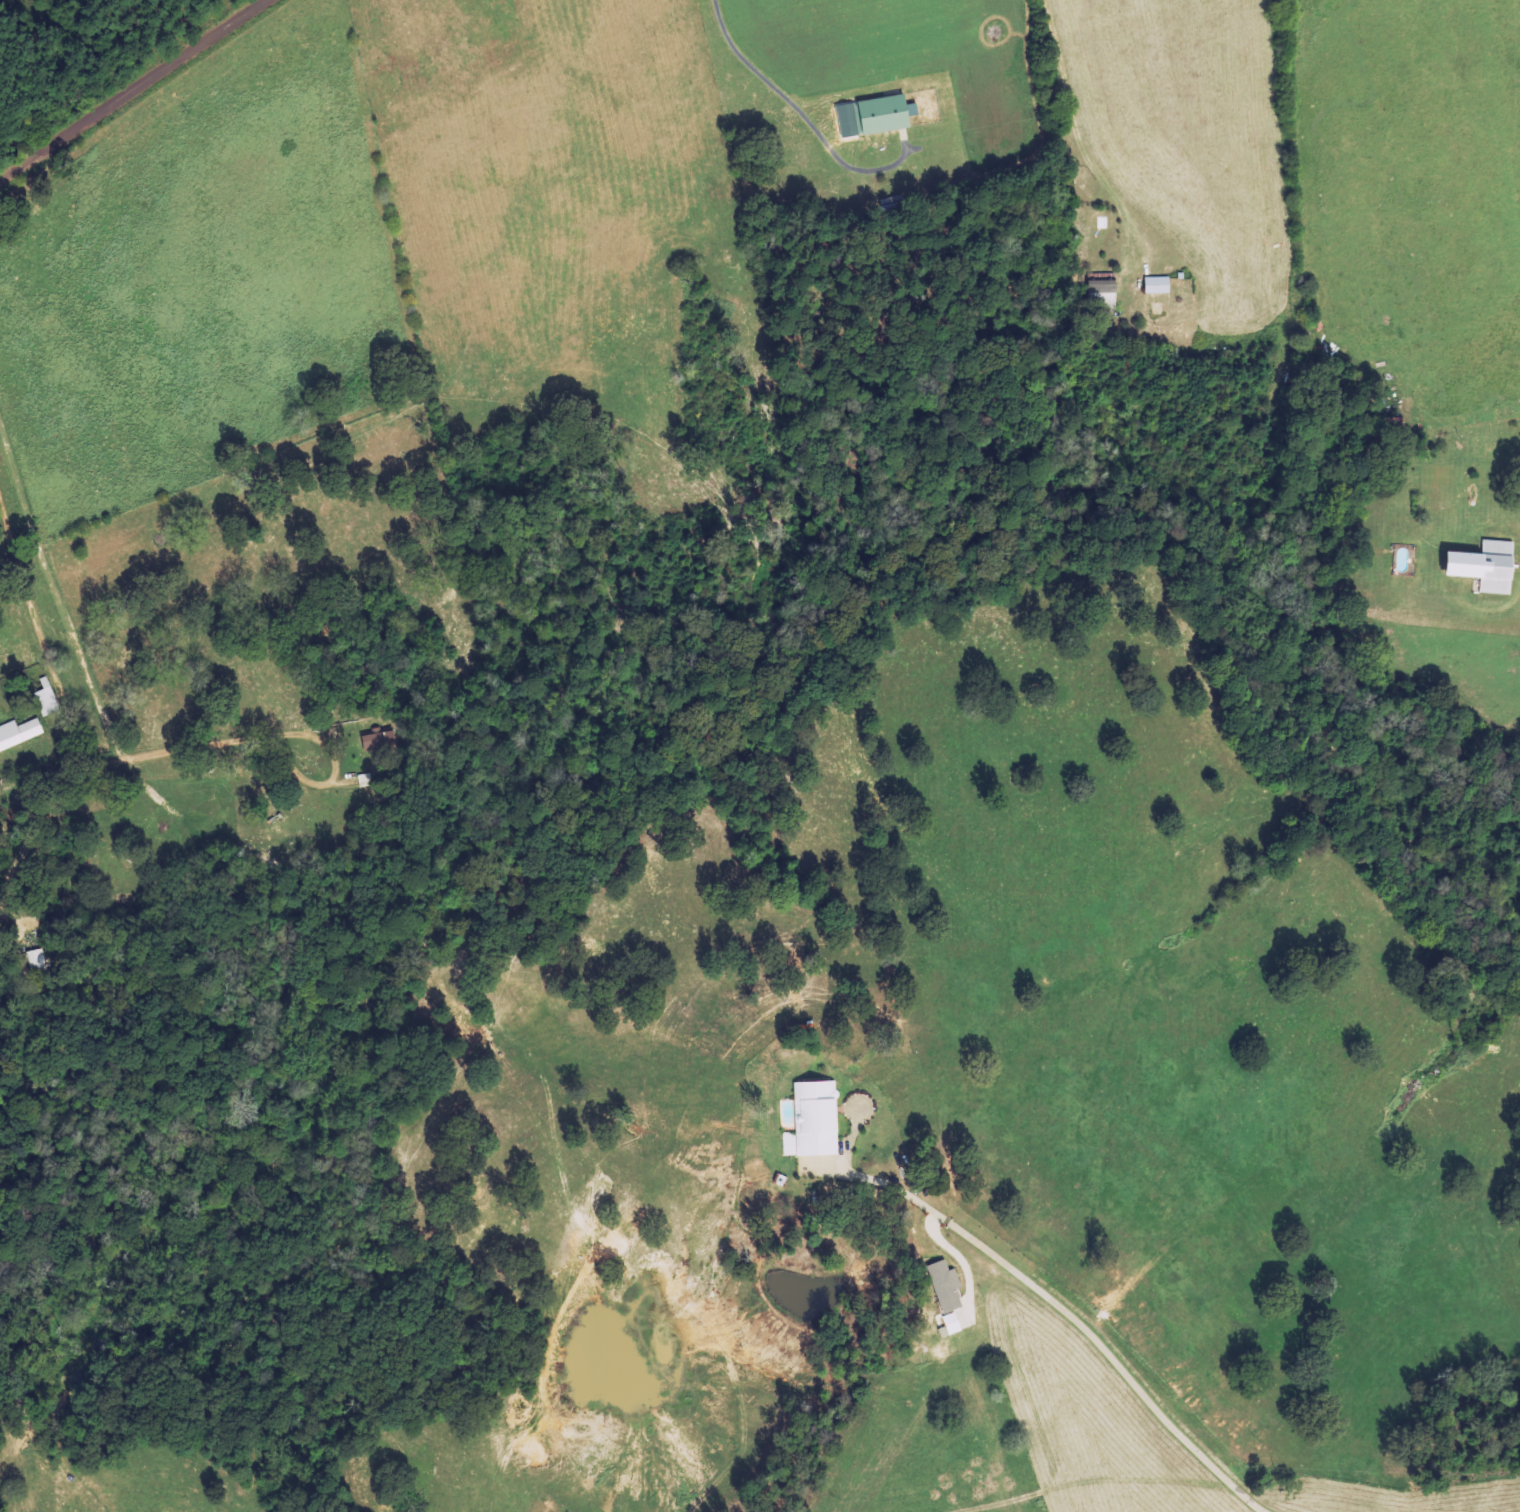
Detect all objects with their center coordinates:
road: (133, 90)
building: (885, 114)
road: (1064, 141)
building: (1160, 284)
building: (1107, 293)
building: (1490, 566)
building: (50, 698)
building: (21, 732)
building: (382, 739)
road: (87, 750)
building: (817, 1118)
building: (949, 1284)
building: (954, 1322)

